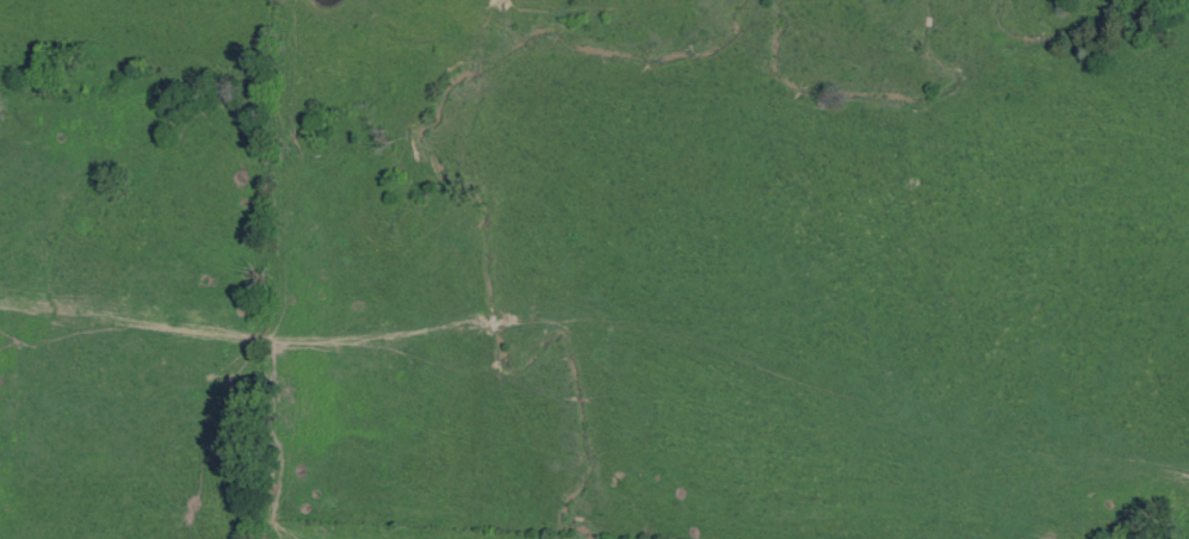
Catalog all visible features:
road: (1188, 535)

